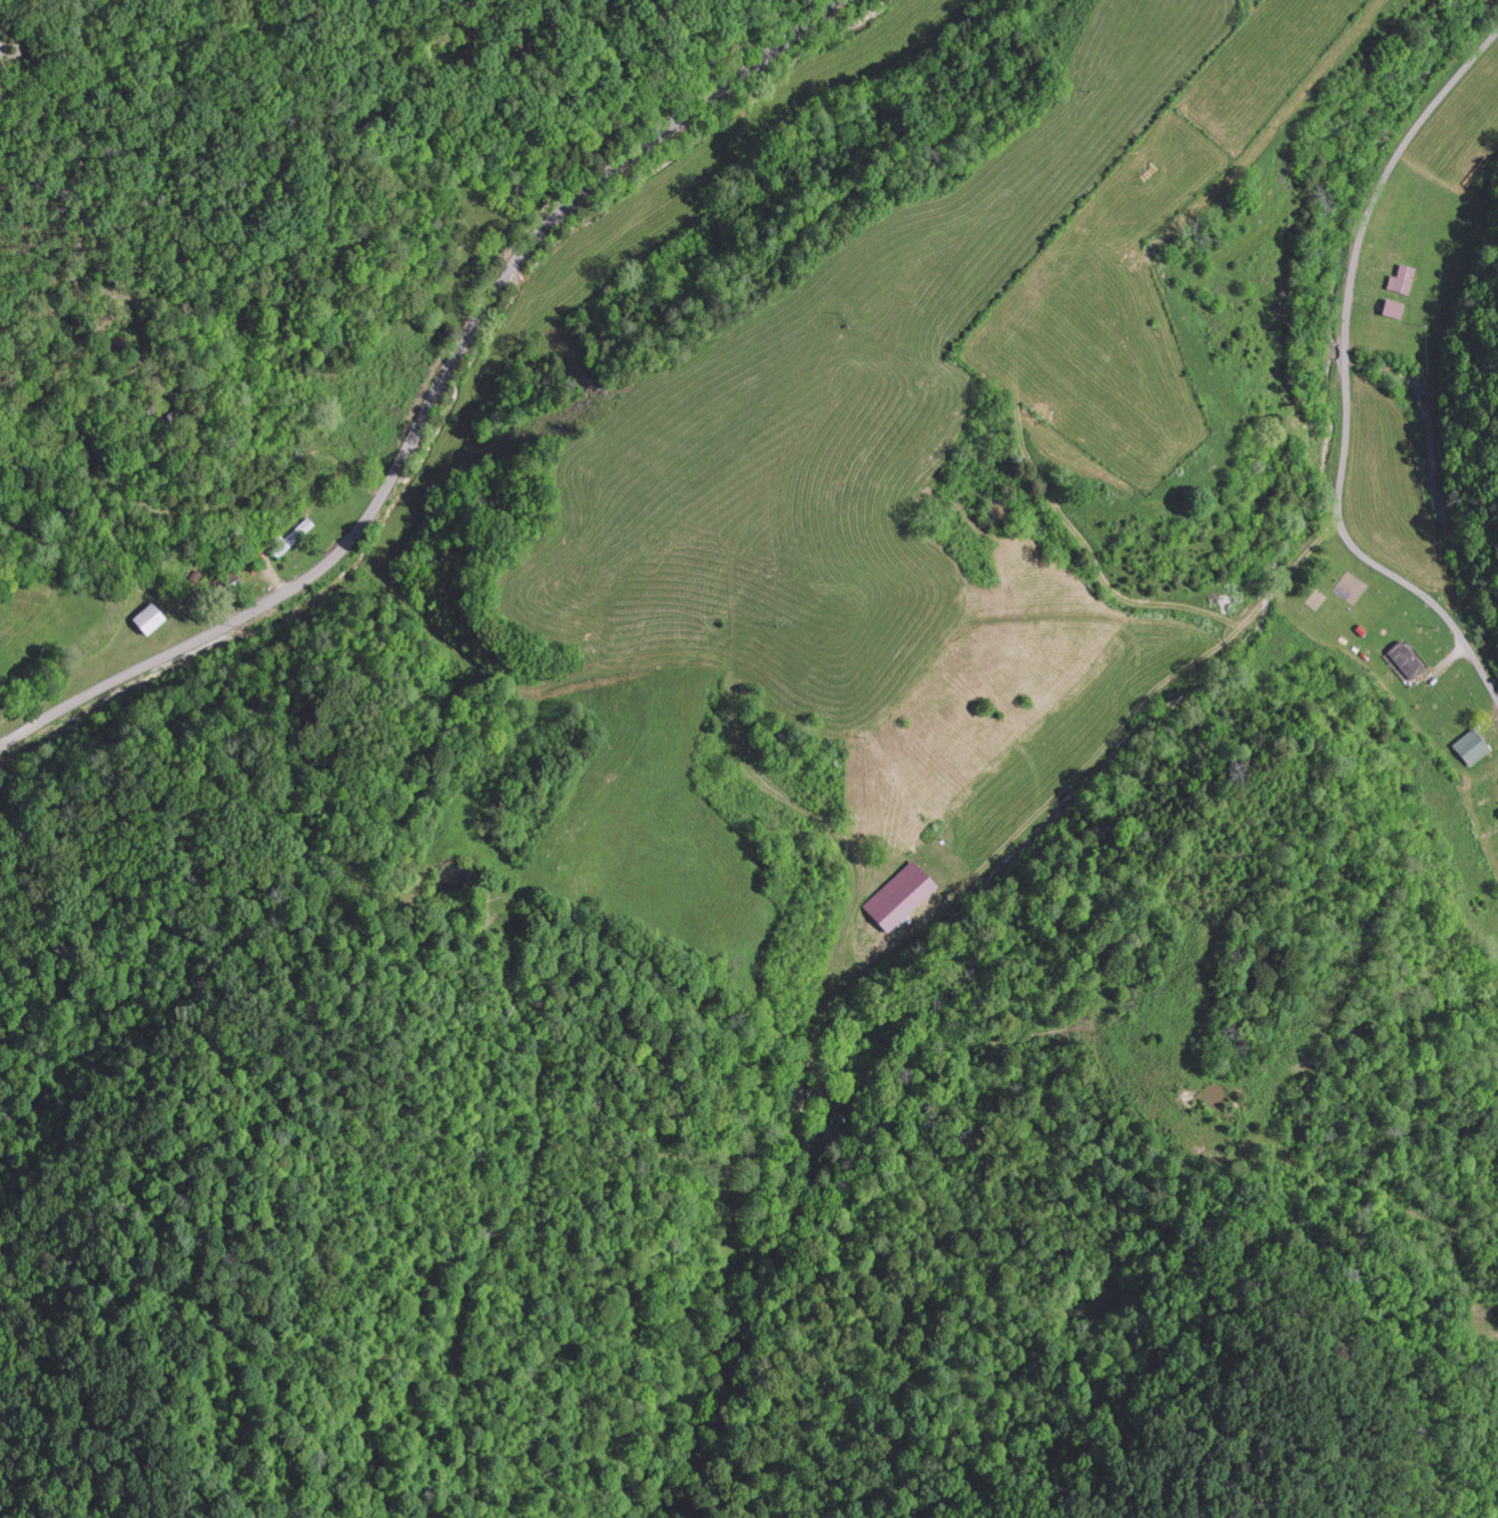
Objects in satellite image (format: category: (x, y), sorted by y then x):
building: (1403, 278)
building: (1394, 307)
road: (1341, 376)
road: (435, 398)
building: (150, 617)
building: (1406, 659)
building: (1473, 746)
building: (901, 895)
road: (823, 1110)

